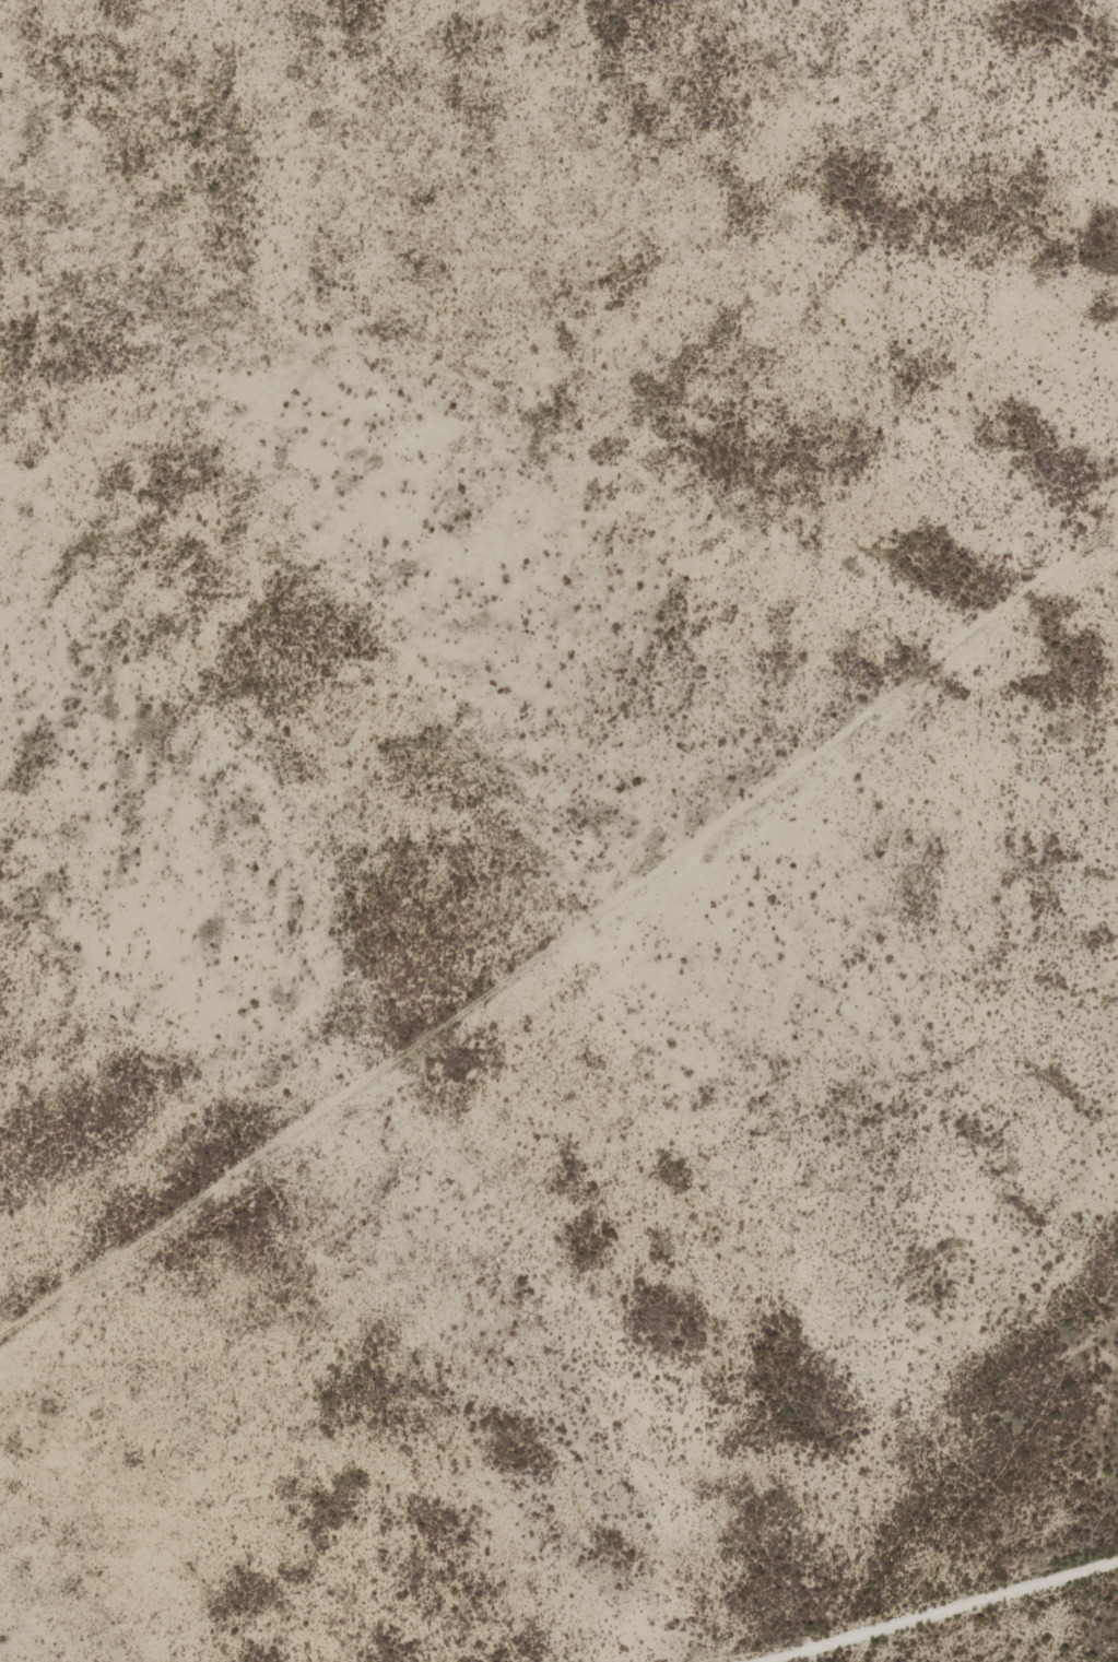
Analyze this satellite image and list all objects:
road: (970, 1619)

